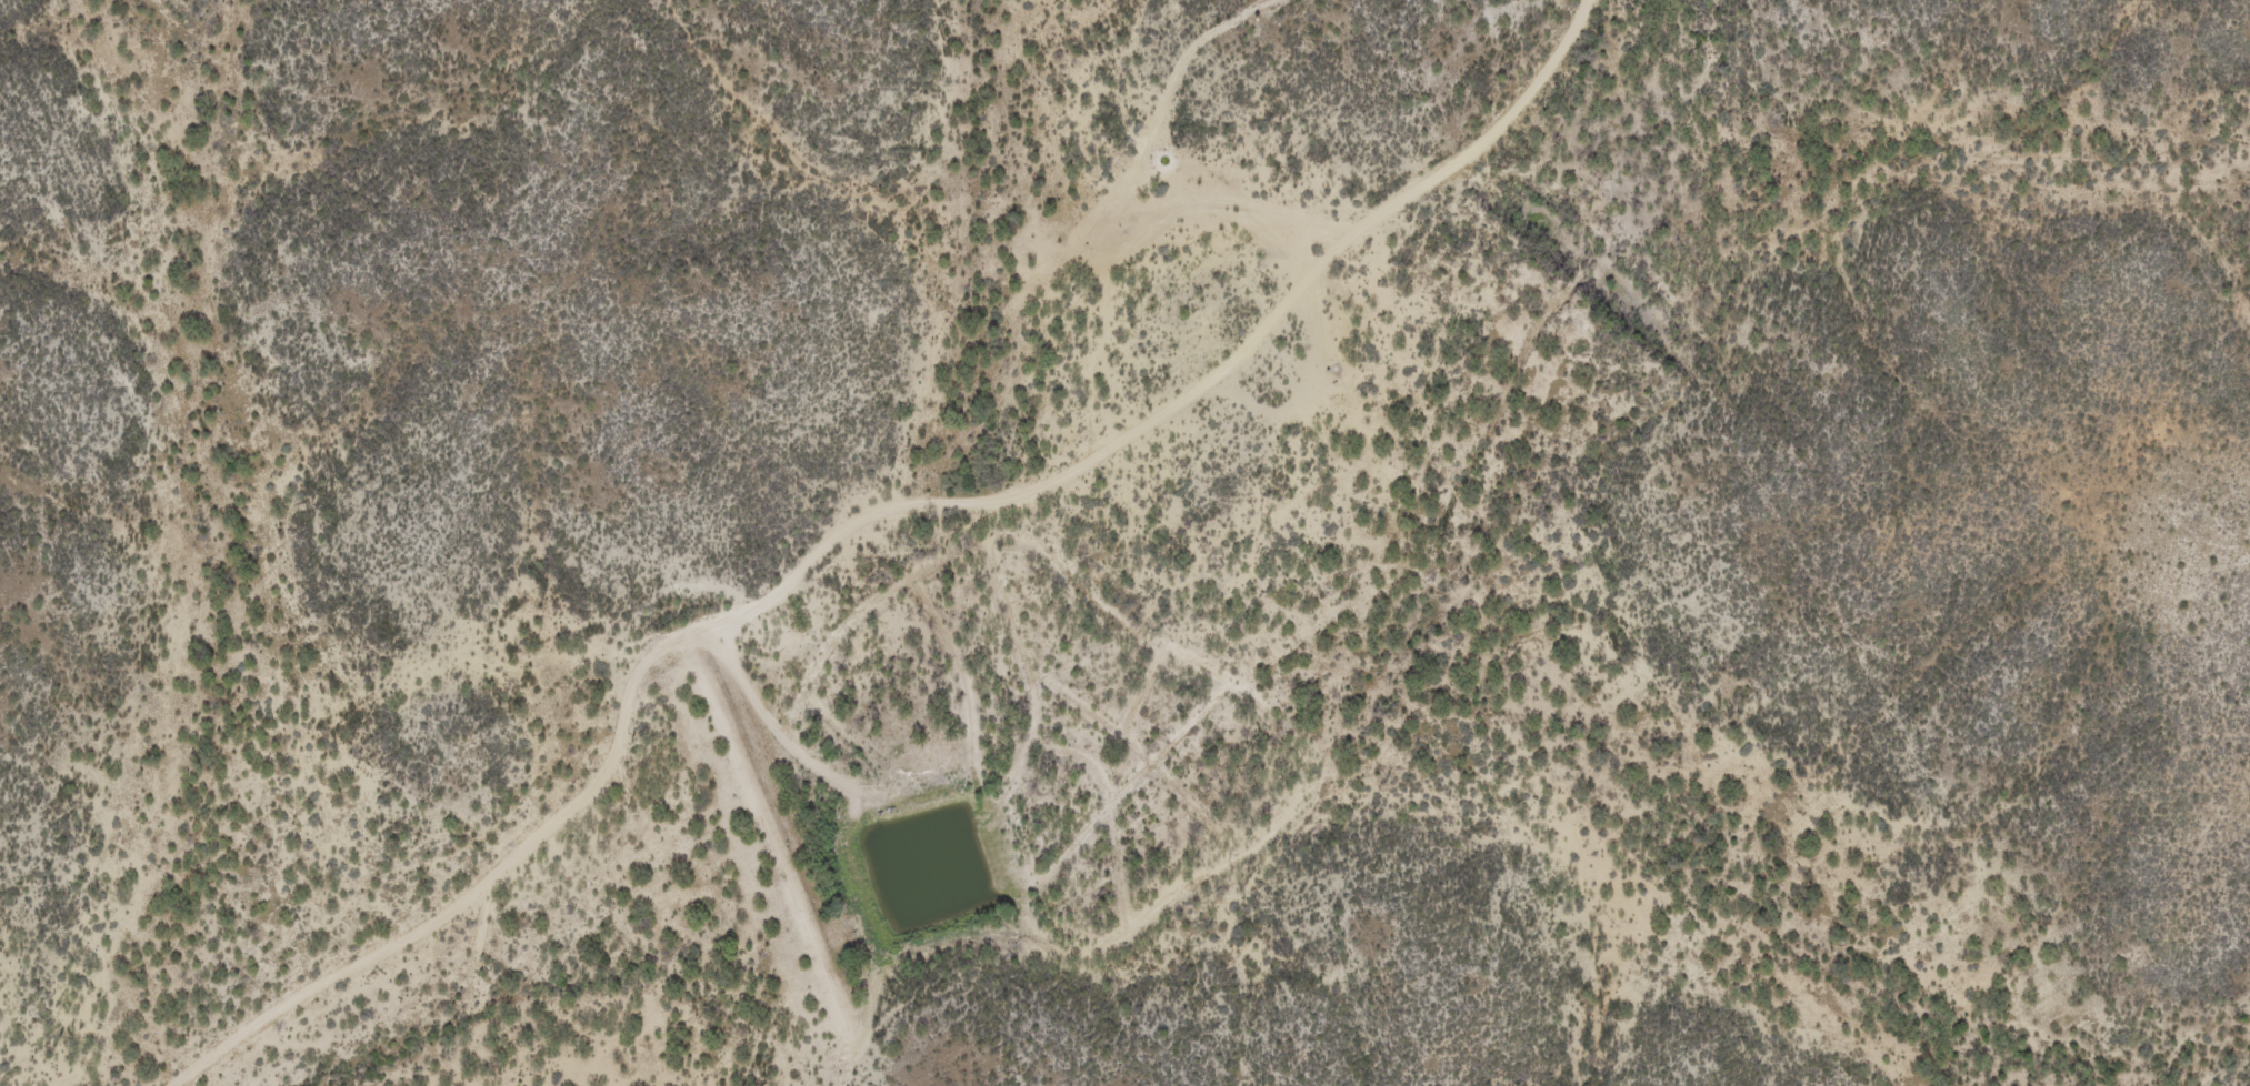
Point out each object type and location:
road: (916, 576)

